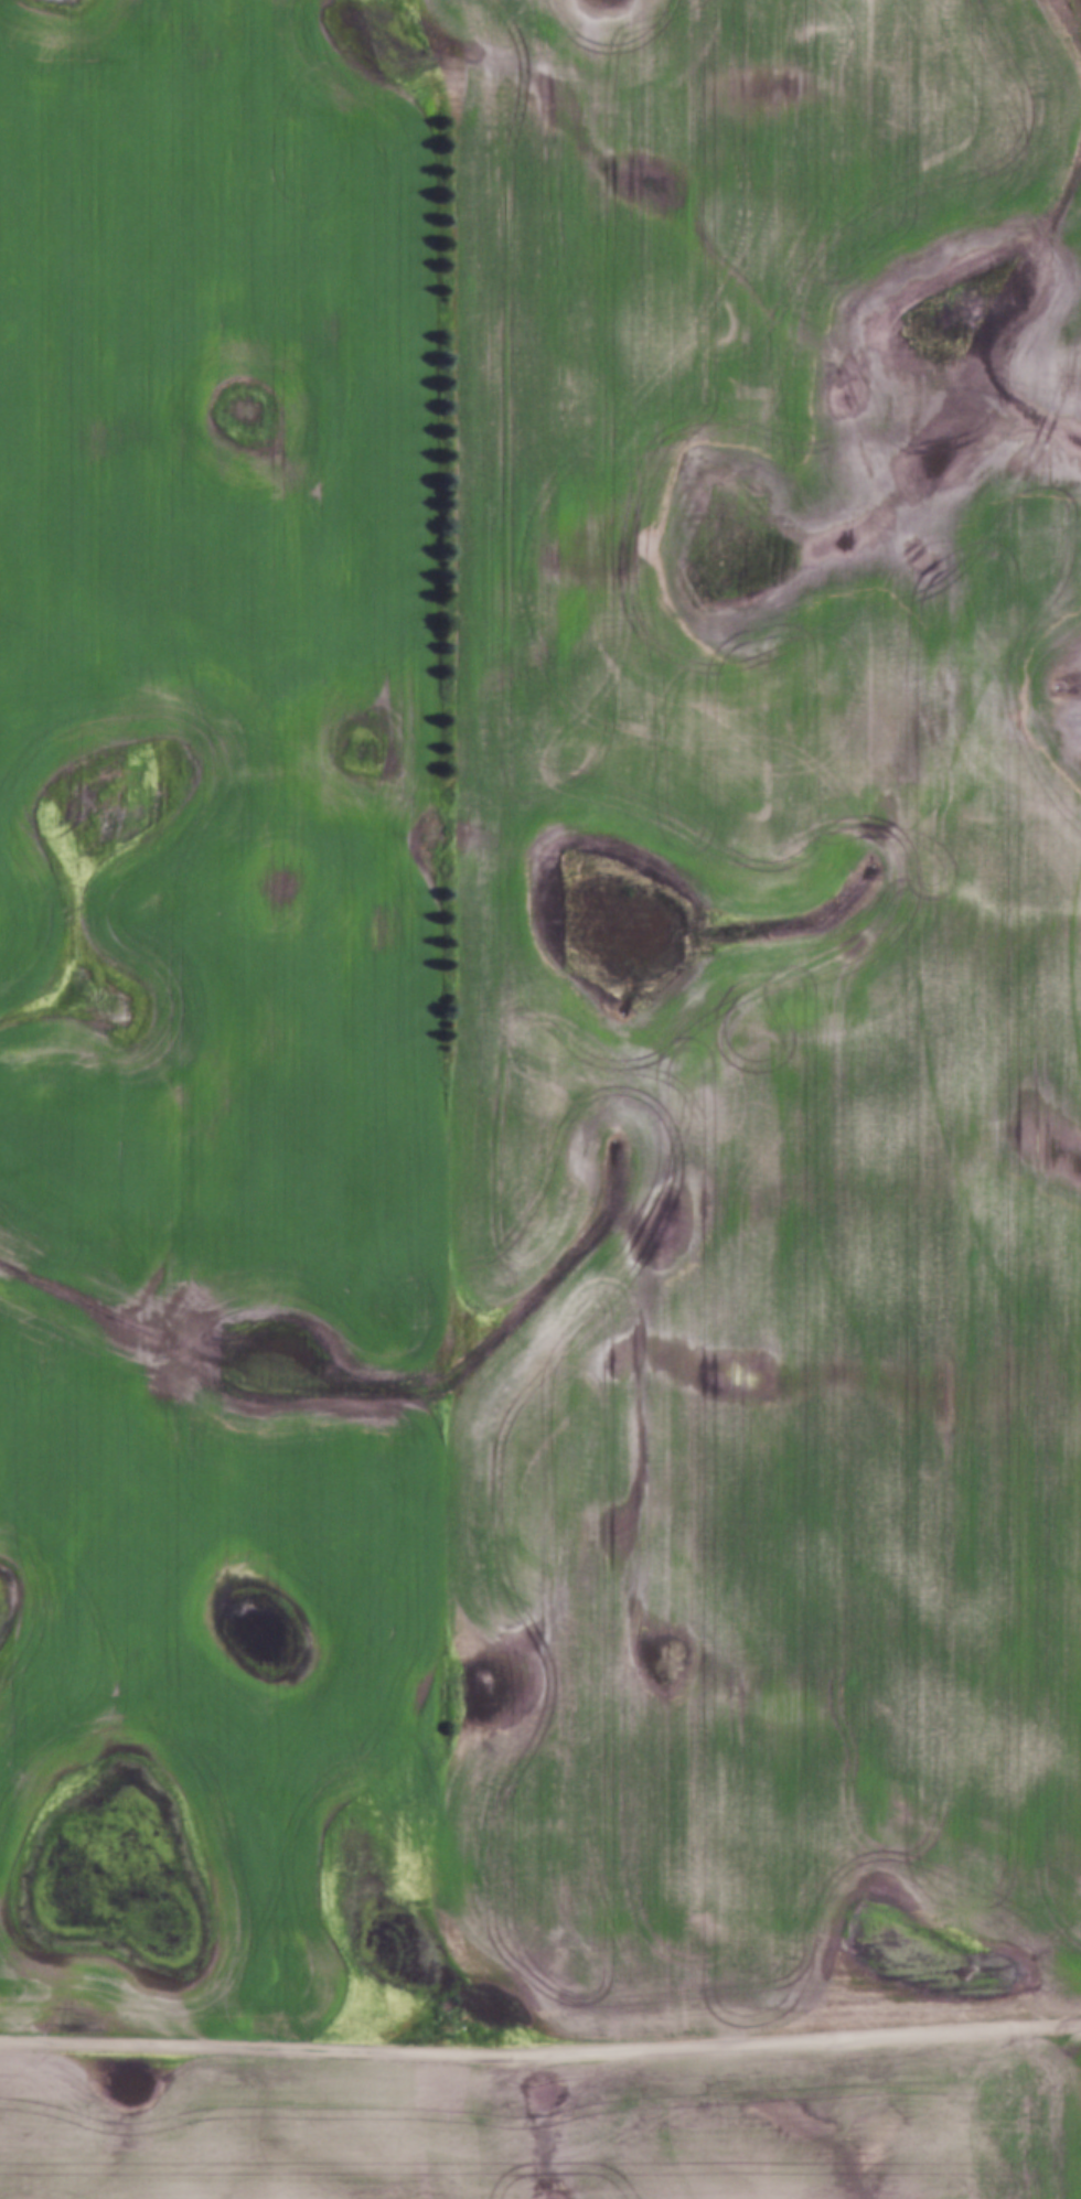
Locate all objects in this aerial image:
road: (540, 2051)
road: (1073, 2134)

